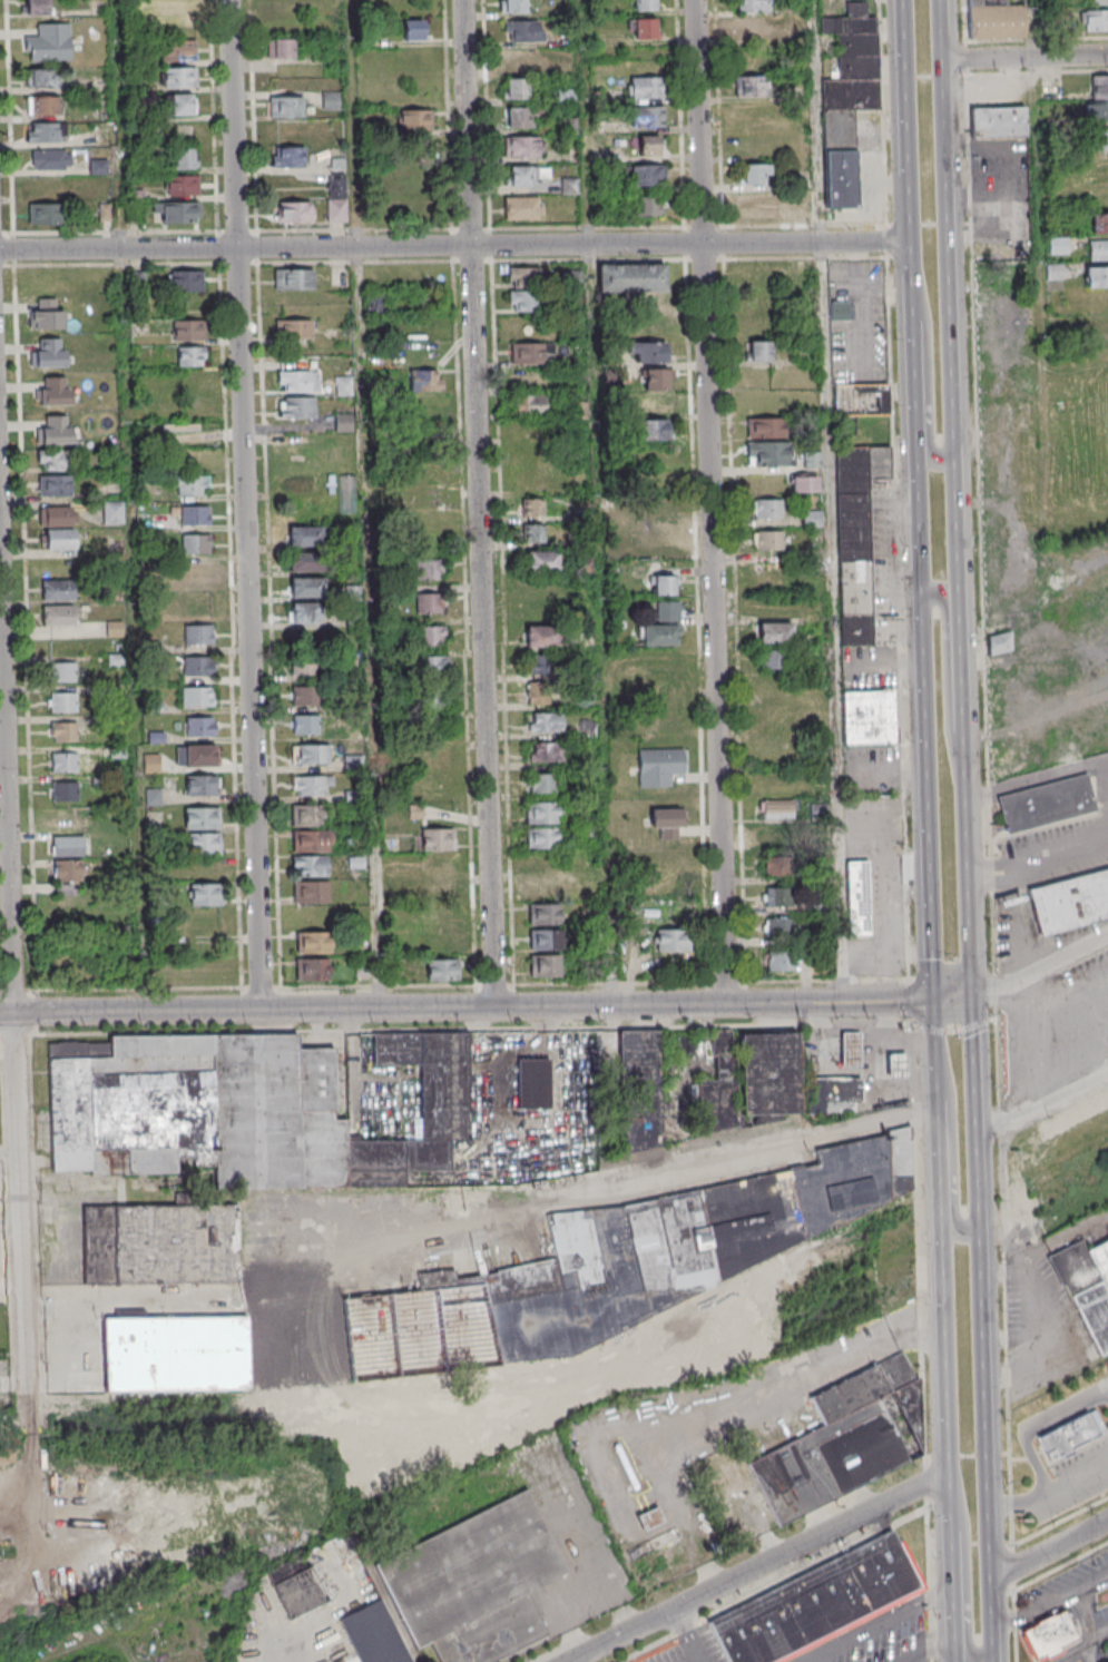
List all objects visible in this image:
building: (1097, 1)
building: (644, 4)
building: (283, 6)
building: (512, 6)
building: (752, 6)
building: (173, 7)
building: (36, 8)
building: (1094, 19)
building: (994, 20)
road: (964, 22)
building: (641, 28)
building: (751, 28)
building: (413, 30)
building: (526, 31)
road: (905, 32)
building: (49, 42)
building: (280, 47)
building: (182, 51)
road: (1026, 58)
road: (965, 59)
building: (527, 61)
road: (1037, 69)
building: (41, 77)
building: (183, 79)
building: (749, 86)
building: (644, 87)
building: (1098, 87)
building: (514, 88)
building: (846, 97)
building: (331, 100)
building: (179, 104)
building: (42, 105)
building: (290, 107)
building: (1096, 111)
road: (11, 117)
building: (647, 117)
building: (519, 118)
building: (415, 120)
building: (999, 121)
building: (48, 131)
building: (1097, 139)
building: (649, 145)
building: (524, 148)
building: (184, 158)
building: (291, 158)
building: (51, 159)
building: (646, 175)
building: (754, 175)
building: (521, 178)
building: (186, 186)
road: (911, 193)
building: (337, 198)
building: (647, 205)
building: (757, 206)
building: (523, 209)
building: (41, 213)
building: (297, 213)
building: (182, 214)
building: (1099, 223)
road: (949, 229)
road: (117, 233)
road: (810, 243)
building: (1058, 245)
road: (353, 247)
road: (220, 248)
road: (17, 249)
building: (1098, 249)
road: (1041, 264)
road: (119, 265)
road: (8, 266)
building: (1053, 272)
building: (523, 276)
building: (1096, 276)
building: (630, 277)
building: (187, 281)
building: (297, 281)
building: (521, 299)
building: (839, 311)
building: (50, 317)
building: (188, 330)
building: (297, 330)
building: (1094, 331)
building: (757, 351)
building: (529, 352)
building: (647, 352)
building: (51, 355)
building: (190, 355)
road: (931, 370)
building: (654, 378)
building: (425, 380)
road: (918, 380)
building: (297, 383)
building: (343, 385)
building: (57, 393)
building: (860, 399)
building: (529, 404)
building: (650, 404)
building: (302, 409)
building: (343, 422)
building: (764, 426)
building: (653, 430)
building: (57, 433)
building: (768, 453)
building: (57, 462)
building: (803, 482)
building: (194, 486)
building: (58, 488)
road: (832, 500)
road: (714, 501)
road: (599, 502)
road: (482, 503)
road: (248, 504)
road: (366, 504)
road: (130, 505)
building: (532, 508)
building: (767, 508)
building: (112, 512)
road: (922, 515)
building: (197, 517)
building: (59, 518)
building: (811, 518)
building: (532, 532)
building: (661, 534)
building: (310, 538)
building: (768, 539)
building: (856, 539)
building: (62, 541)
building: (198, 545)
road: (959, 561)
building: (310, 563)
building: (545, 564)
building: (428, 568)
building: (196, 572)
building: (663, 584)
building: (311, 589)
building: (59, 591)
building: (429, 601)
road: (271, 607)
building: (307, 614)
building: (61, 617)
building: (661, 626)
road: (28, 628)
building: (114, 628)
building: (774, 632)
building: (200, 636)
building: (430, 636)
building: (545, 638)
building: (1000, 643)
road: (233, 645)
building: (769, 659)
building: (430, 665)
building: (543, 666)
building: (199, 667)
building: (307, 667)
building: (66, 673)
road: (950, 680)
building: (540, 692)
building: (308, 698)
building: (199, 699)
building: (66, 704)
building: (434, 710)
building: (869, 717)
building: (549, 724)
road: (963, 725)
building: (308, 726)
building: (203, 728)
building: (67, 732)
building: (545, 751)
building: (313, 755)
building: (198, 758)
building: (353, 763)
building: (67, 764)
building: (659, 766)
road: (1037, 778)
building: (542, 785)
building: (204, 787)
building: (314, 787)
building: (68, 793)
road: (930, 797)
building: (1047, 804)
road: (989, 808)
building: (778, 810)
building: (543, 815)
building: (313, 817)
building: (205, 820)
building: (667, 822)
building: (778, 834)
road: (904, 834)
building: (435, 838)
building: (310, 840)
building: (543, 840)
building: (206, 846)
building: (70, 847)
road: (1066, 853)
building: (310, 865)
building: (438, 866)
building: (782, 866)
road: (1021, 867)
building: (65, 871)
building: (542, 888)
building: (437, 889)
building: (311, 892)
road: (970, 892)
building: (778, 896)
building: (209, 897)
building: (857, 897)
building: (1070, 899)
building: (543, 914)
building: (439, 917)
building: (778, 927)
building: (546, 938)
building: (670, 940)
building: (313, 942)
building: (438, 943)
building: (781, 961)
building: (545, 965)
building: (312, 968)
building: (442, 968)
road: (1041, 971)
road: (121, 990)
road: (954, 1000)
traffic signals: (973, 1000)
traffic signals: (937, 1001)
road: (468, 1009)
road: (16, 1019)
road: (938, 1051)
building: (853, 1052)
building: (900, 1069)
building: (768, 1074)
building: (516, 1075)
building: (835, 1096)
road: (1043, 1104)
building: (244, 1109)
road: (975, 1115)
building: (643, 1127)
road: (954, 1141)
building: (160, 1242)
building: (620, 1266)
building: (1087, 1287)
building: (175, 1353)
road: (800, 1380)
road: (948, 1381)
road: (1035, 1424)
building: (1072, 1435)
building: (845, 1442)
road: (987, 1446)
road: (1078, 1481)
road: (1019, 1502)
road: (1061, 1522)
road: (972, 1544)
road: (1049, 1551)
road: (761, 1566)
road: (1062, 1566)
road: (1014, 1567)
road: (968, 1572)
building: (474, 1583)
building: (297, 1593)
road: (1049, 1605)
building: (818, 1606)
road: (1089, 1615)
road: (881, 1623)
road: (1017, 1626)
building: (373, 1634)
road: (689, 1634)
building: (1052, 1640)
road: (1084, 1648)
road: (930, 1649)
road: (1091, 1653)
road: (916, 1659)
road: (697, 1660)

